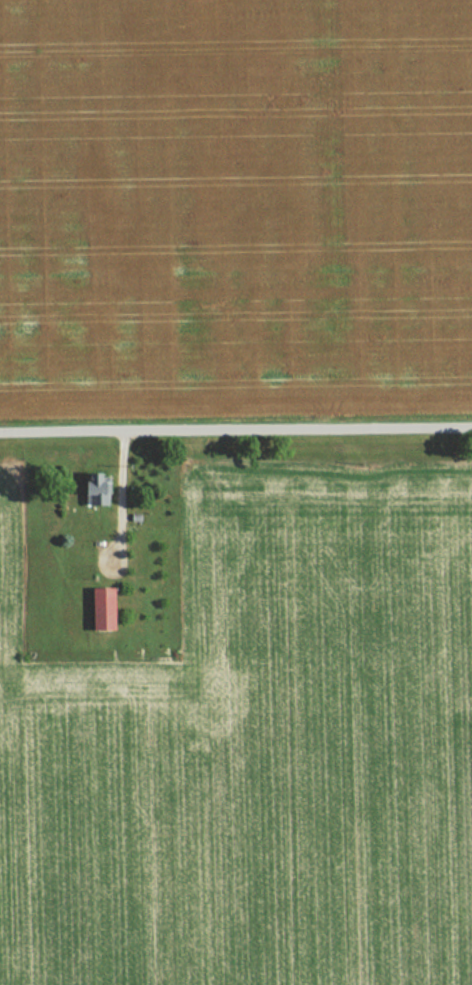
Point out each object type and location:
crop: (235, 209)
road: (236, 429)
building: (105, 609)
crop: (257, 747)

